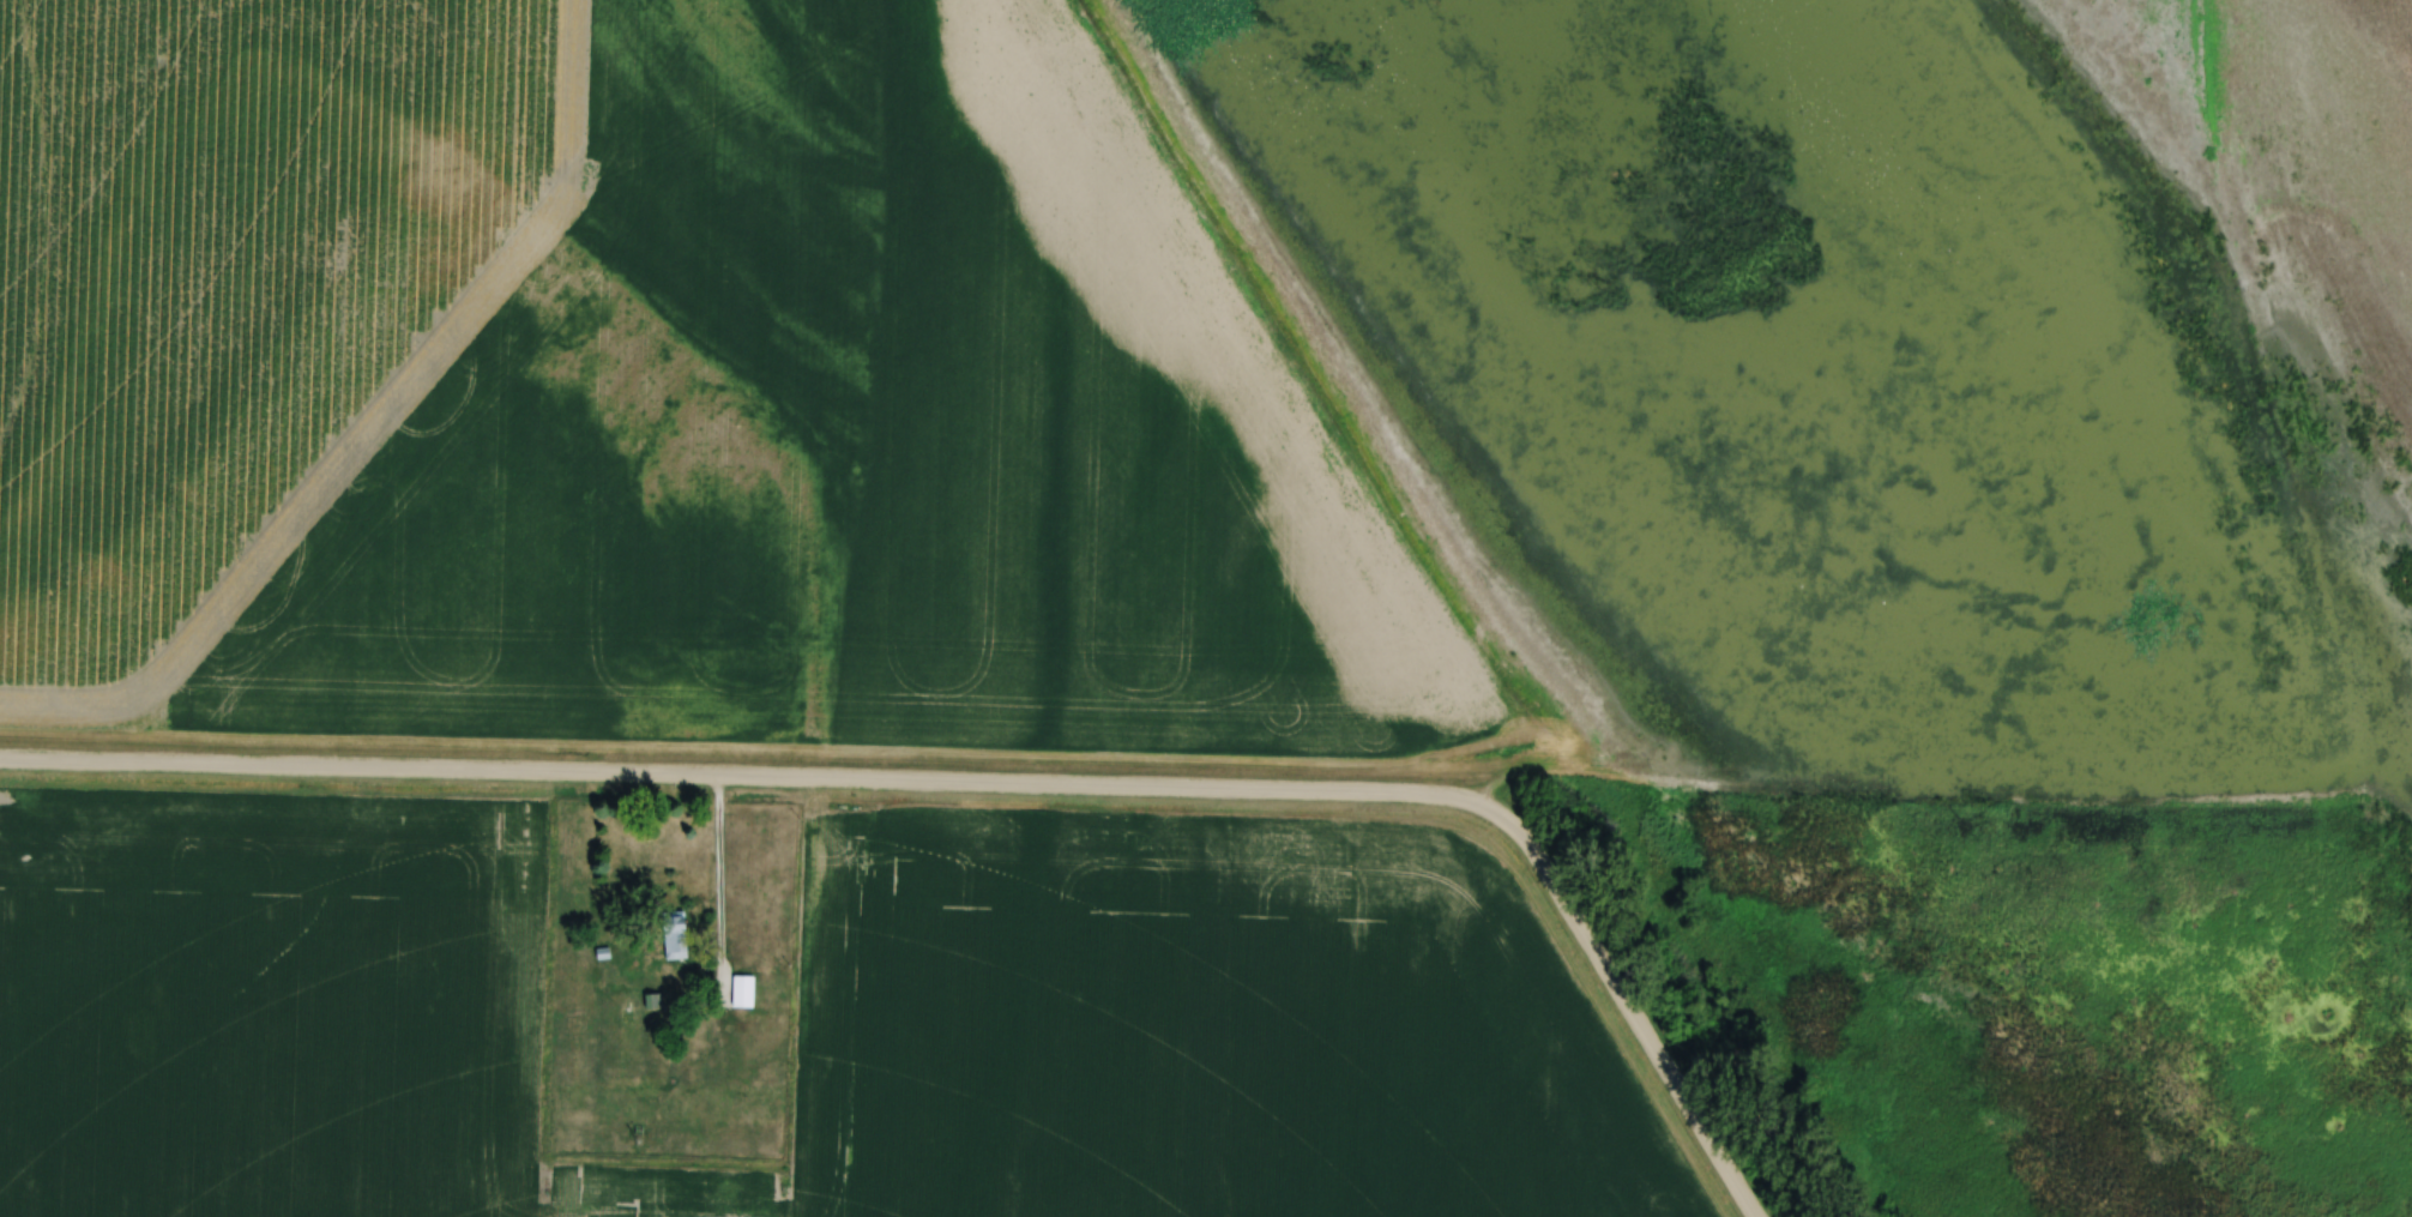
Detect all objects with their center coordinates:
road: (990, 776)
building: (676, 933)
building: (742, 988)

